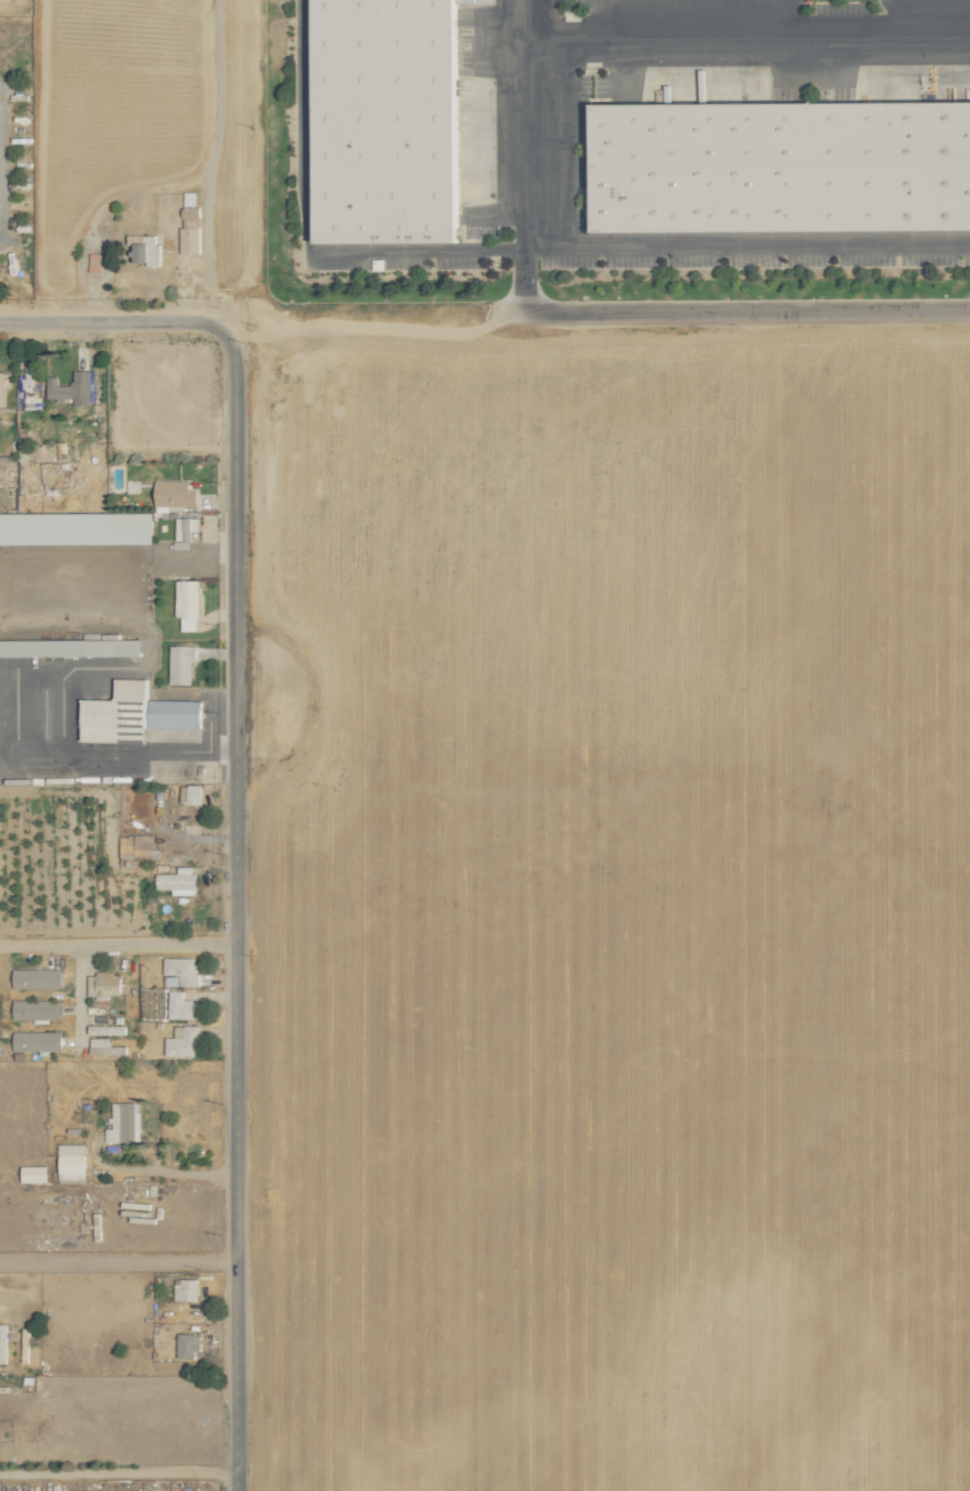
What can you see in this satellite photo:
road: (895, 19)
road: (785, 21)
road: (520, 25)
road: (745, 43)
building: (385, 121)
road: (192, 161)
building: (781, 167)
road: (304, 232)
building: (189, 241)
road: (746, 247)
building: (143, 250)
building: (95, 262)
road: (621, 306)
road: (116, 324)
building: (71, 388)
building: (2, 389)
building: (174, 493)
building: (76, 527)
building: (186, 527)
building: (187, 603)
building: (72, 647)
building: (181, 663)
building: (117, 713)
building: (175, 713)
building: (190, 794)
building: (177, 881)
crop: (625, 904)
road: (231, 915)
road: (115, 943)
building: (182, 970)
building: (36, 978)
building: (106, 983)
road: (76, 994)
building: (181, 1006)
building: (36, 1010)
building: (106, 1029)
building: (36, 1041)
building: (182, 1042)
building: (104, 1047)
building: (124, 1124)
building: (71, 1162)
road: (161, 1172)
building: (34, 1174)
road: (116, 1263)
building: (186, 1290)
building: (187, 1345)
road: (117, 1473)

